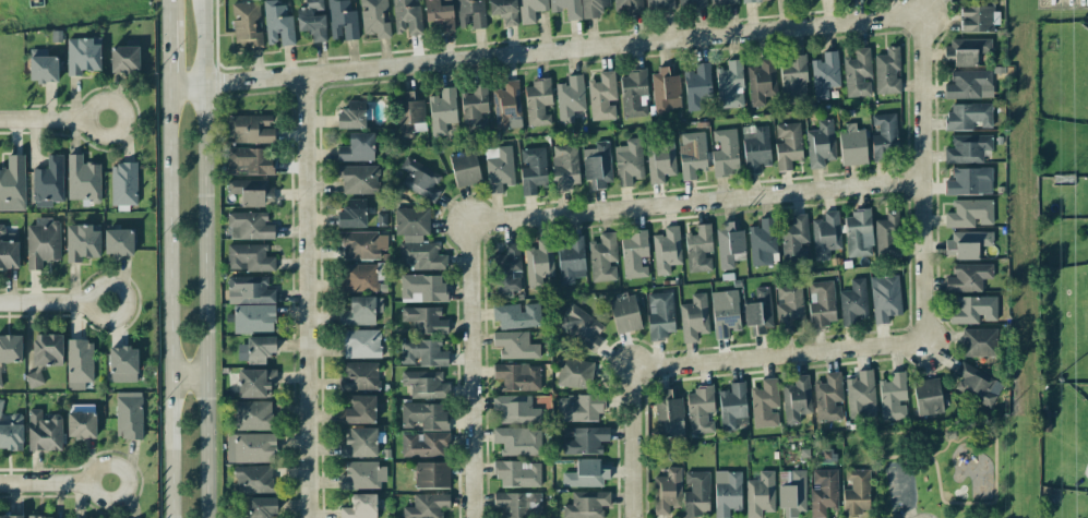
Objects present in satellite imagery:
building: (753, 0)
building: (722, 1)
building: (690, 3)
building: (658, 4)
building: (627, 7)
building: (565, 8)
building: (593, 8)
road: (167, 10)
building: (503, 10)
building: (530, 10)
building: (439, 13)
building: (470, 13)
building: (406, 16)
building: (977, 17)
building: (374, 19)
building: (311, 20)
building: (342, 20)
building: (246, 23)
building: (277, 24)
road: (547, 50)
building: (966, 50)
building: (83, 55)
road: (167, 55)
building: (124, 59)
building: (41, 67)
building: (887, 71)
building: (857, 73)
building: (825, 74)
building: (793, 80)
building: (761, 82)
building: (697, 85)
building: (730, 85)
building: (969, 85)
building: (665, 91)
building: (633, 94)
building: (602, 96)
building: (570, 98)
building: (537, 103)
building: (506, 104)
building: (475, 110)
building: (442, 111)
building: (409, 115)
building: (351, 116)
building: (968, 116)
road: (52, 120)
building: (249, 129)
building: (884, 135)
building: (820, 144)
building: (787, 145)
building: (852, 145)
building: (357, 147)
building: (755, 148)
building: (967, 148)
building: (725, 153)
building: (692, 154)
building: (660, 159)
building: (250, 161)
building: (629, 161)
building: (597, 166)
building: (564, 167)
building: (465, 168)
building: (499, 168)
building: (533, 170)
road: (928, 177)
building: (82, 179)
building: (359, 179)
building: (420, 179)
building: (969, 181)
power tower: (1064, 181)
building: (48, 182)
building: (123, 183)
building: (12, 184)
building: (251, 191)
road: (713, 197)
building: (969, 213)
building: (352, 214)
building: (249, 226)
building: (858, 233)
building: (826, 234)
building: (887, 236)
building: (417, 240)
building: (794, 240)
building: (82, 241)
building: (763, 241)
building: (43, 242)
building: (118, 242)
building: (729, 243)
building: (967, 243)
building: (362, 245)
building: (698, 249)
building: (8, 250)
building: (666, 250)
building: (634, 254)
building: (248, 257)
building: (602, 257)
road: (204, 258)
building: (570, 260)
building: (539, 262)
building: (509, 270)
building: (968, 277)
building: (357, 278)
building: (422, 288)
building: (250, 290)
road: (311, 296)
building: (885, 298)
building: (853, 302)
road: (53, 303)
road: (169, 303)
building: (822, 303)
building: (788, 305)
building: (973, 310)
building: (358, 312)
building: (758, 312)
building: (624, 313)
building: (725, 313)
building: (517, 315)
building: (659, 315)
building: (693, 317)
building: (253, 318)
building: (425, 320)
building: (581, 327)
building: (979, 341)
building: (361, 344)
building: (515, 345)
building: (10, 348)
building: (47, 349)
building: (255, 349)
building: (422, 352)
road: (798, 352)
road: (478, 358)
building: (79, 363)
building: (123, 364)
building: (574, 373)
road: (188, 375)
building: (359, 376)
building: (517, 376)
building: (34, 378)
building: (0, 382)
building: (255, 383)
building: (425, 384)
building: (977, 385)
building: (861, 395)
building: (928, 396)
building: (893, 397)
building: (828, 398)
building: (796, 399)
building: (0, 403)
building: (764, 403)
building: (732, 406)
building: (578, 408)
building: (515, 409)
building: (700, 409)
building: (359, 410)
building: (669, 414)
building: (129, 415)
building: (252, 415)
building: (425, 415)
building: (81, 424)
road: (637, 427)
building: (44, 431)
building: (12, 432)
building: (515, 441)
building: (586, 441)
road: (948, 442)
building: (359, 443)
building: (425, 444)
building: (253, 447)
road: (994, 466)
park: (944, 468)
building: (517, 473)
building: (432, 474)
building: (586, 474)
building: (362, 475)
building: (253, 479)
road: (55, 483)
parking lot: (899, 489)
building: (667, 491)
building: (792, 491)
building: (824, 492)
building: (857, 492)
road: (907, 492)
building: (727, 493)
building: (696, 494)
building: (760, 495)
building: (586, 504)
building: (518, 505)
building: (427, 506)
building: (261, 507)
building: (360, 507)
building: (11, 516)
building: (40, 517)

